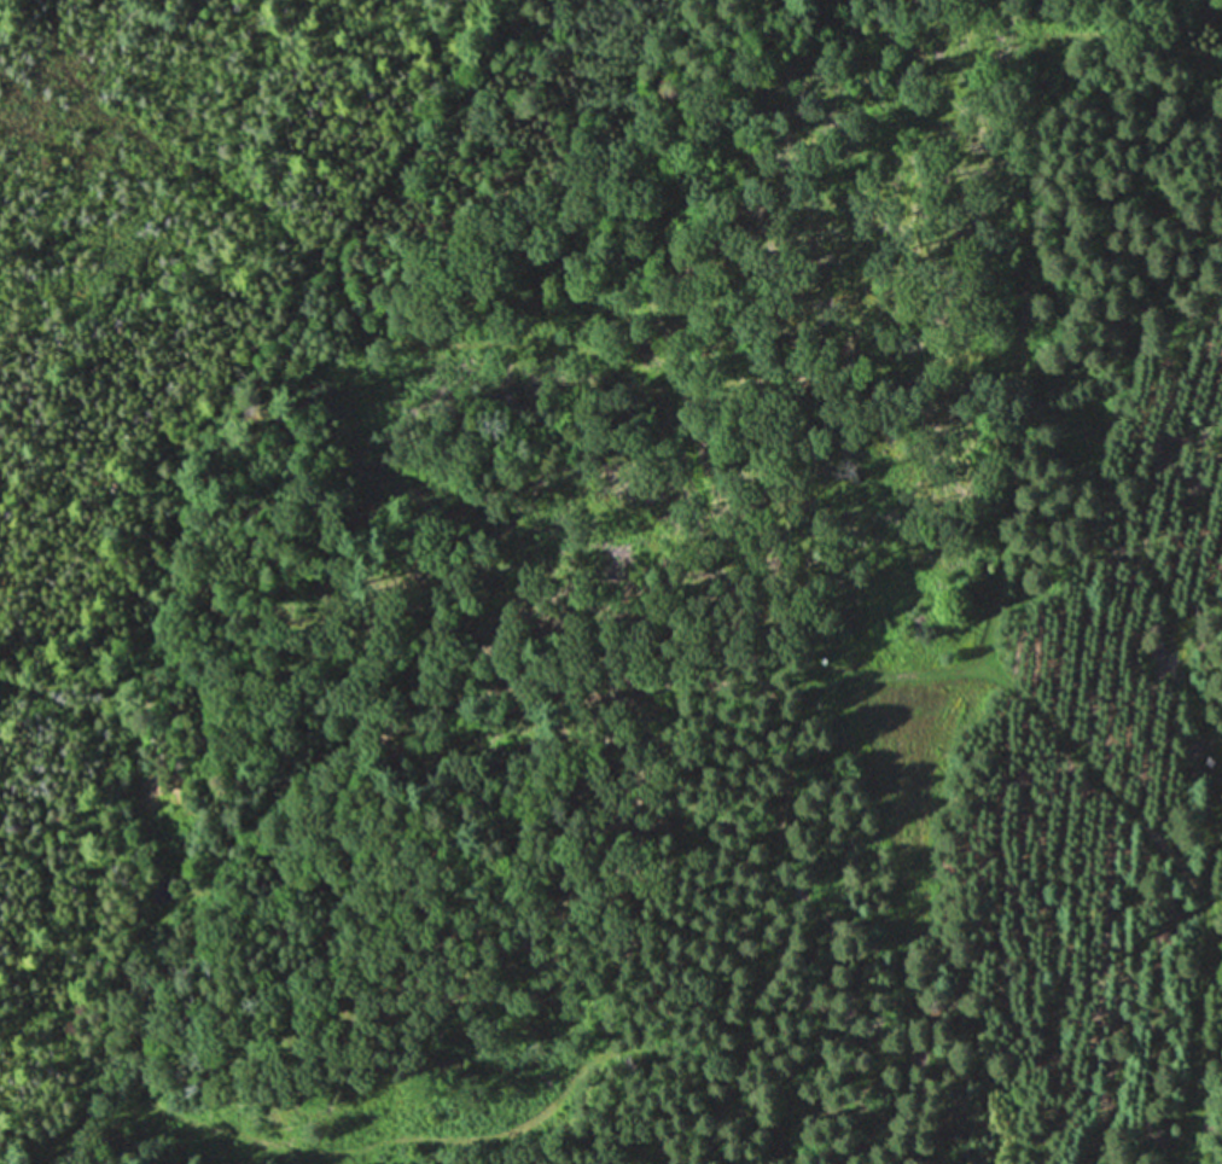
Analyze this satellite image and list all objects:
road: (1005, 554)
road: (1191, 1099)

